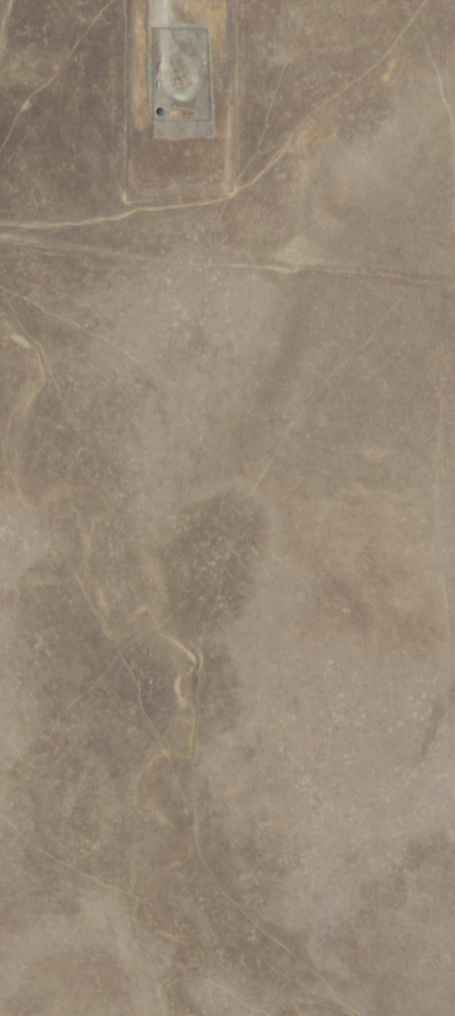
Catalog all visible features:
road: (161, 19)
road: (183, 95)

